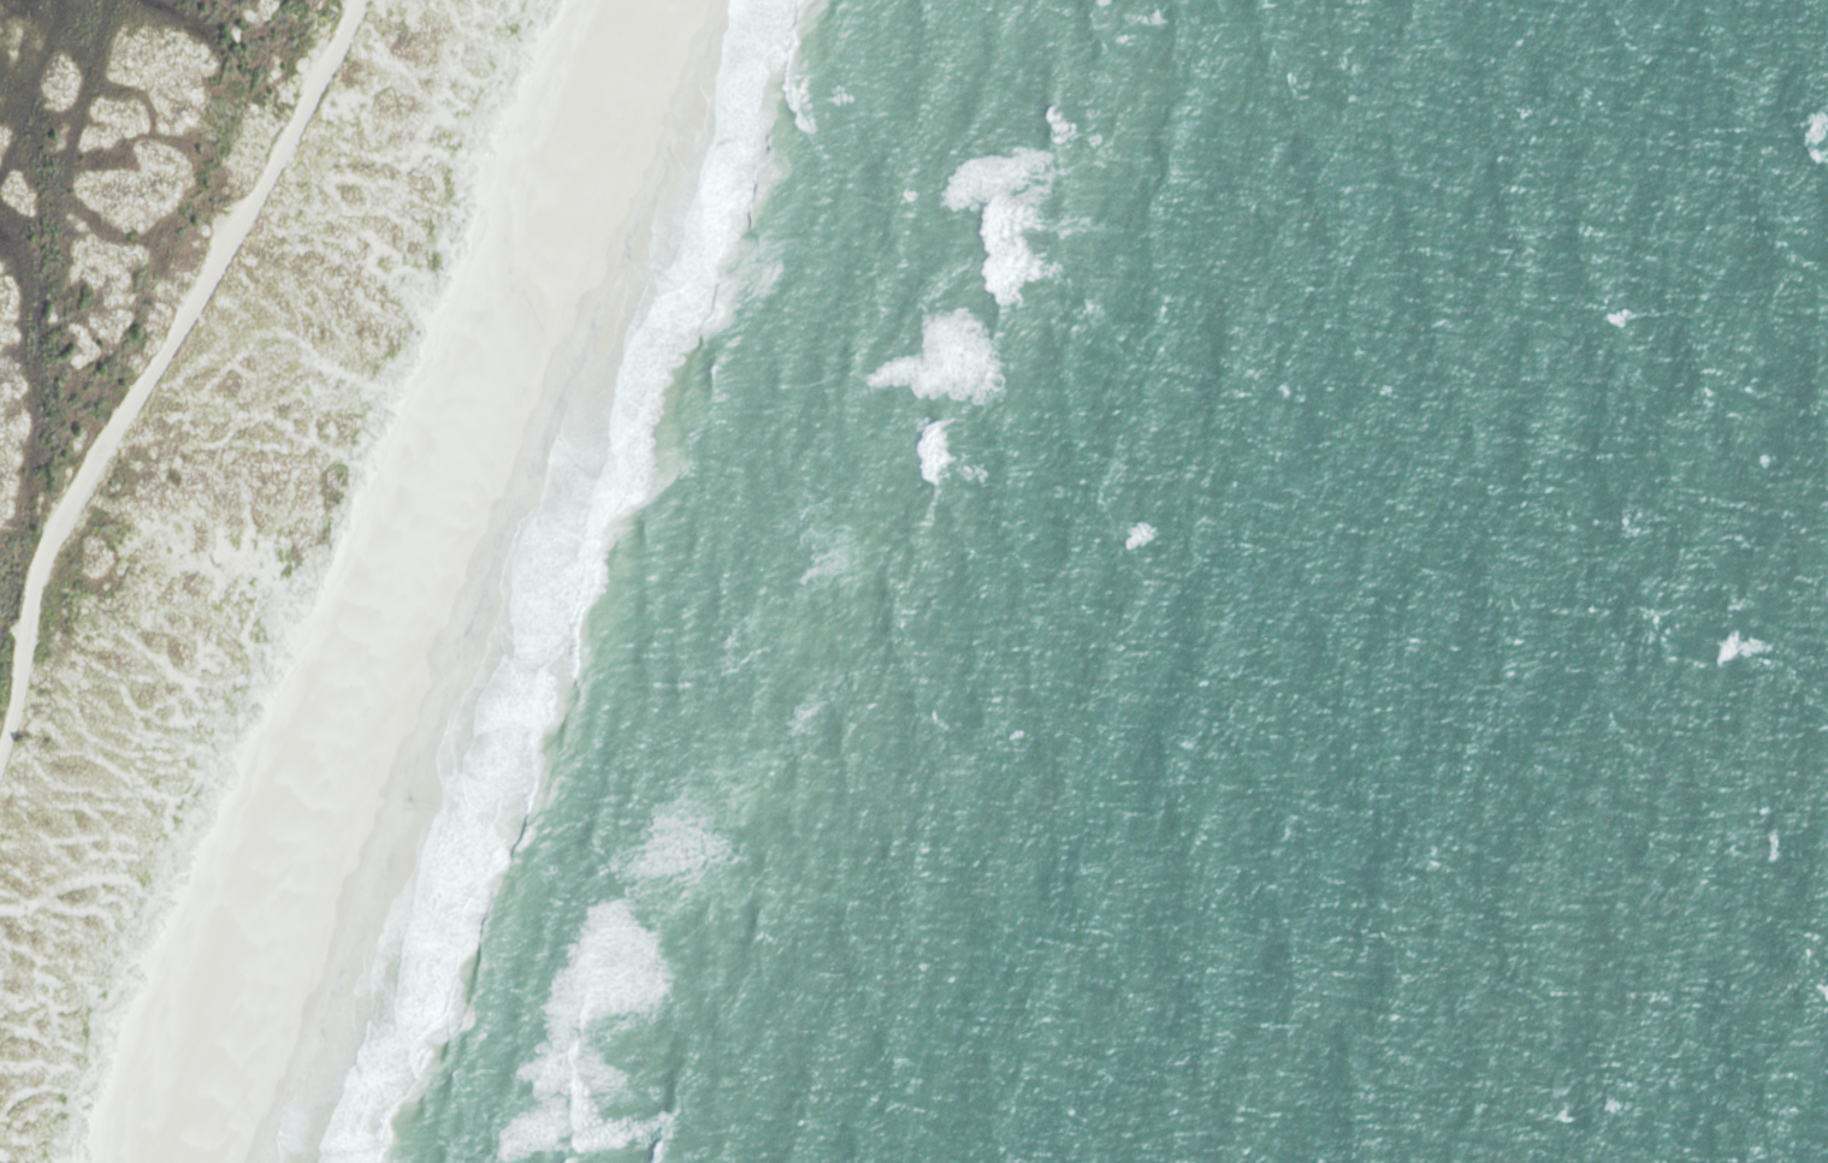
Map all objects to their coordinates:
road: (150, 372)

